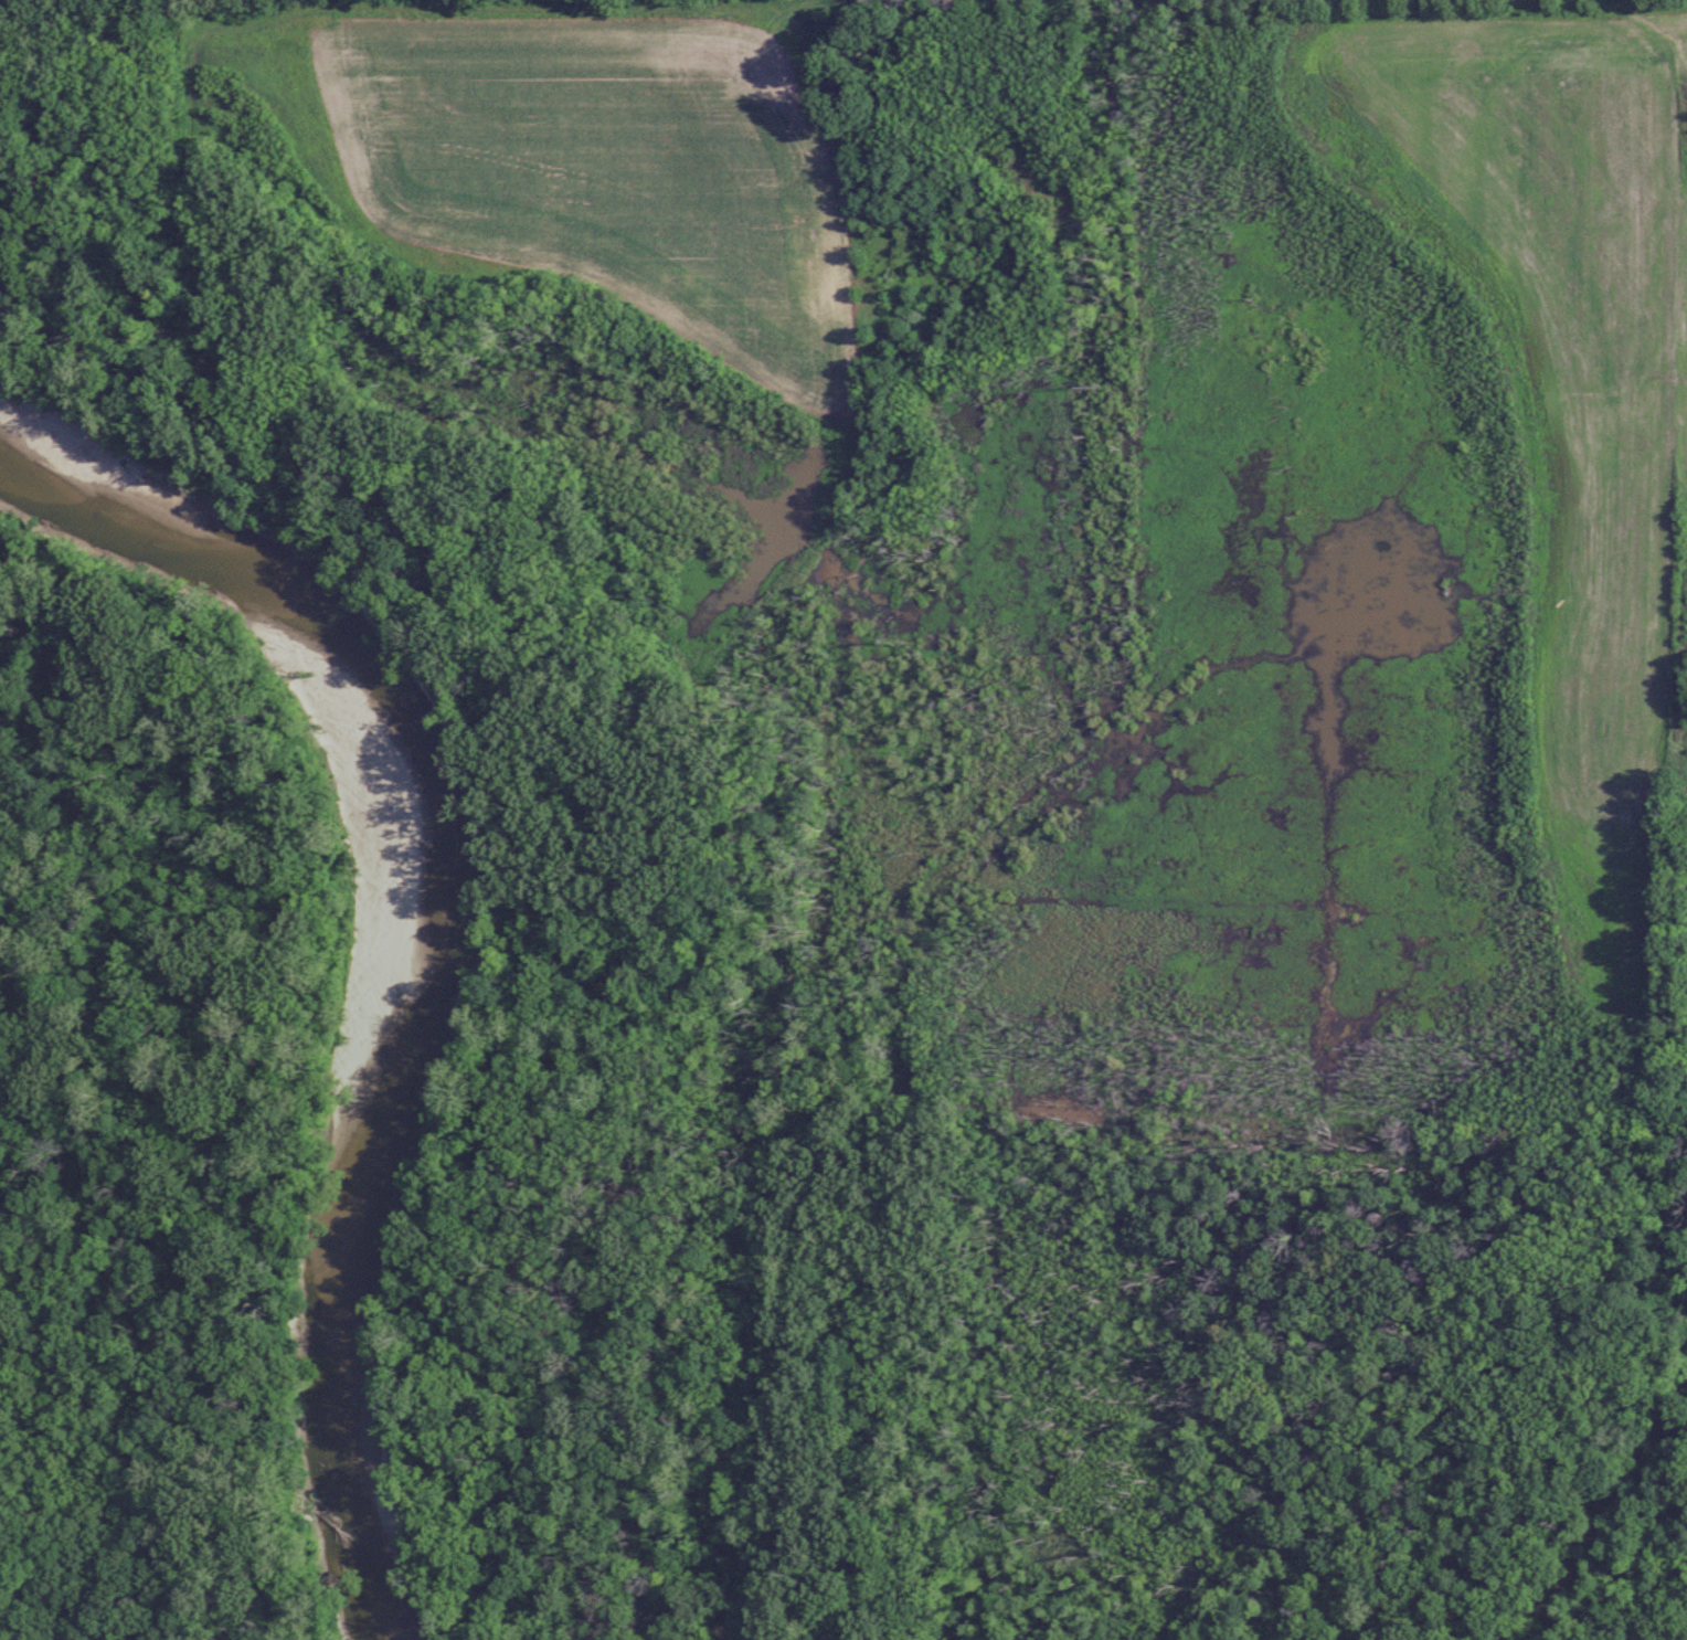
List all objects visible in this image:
river: (437, 937)

